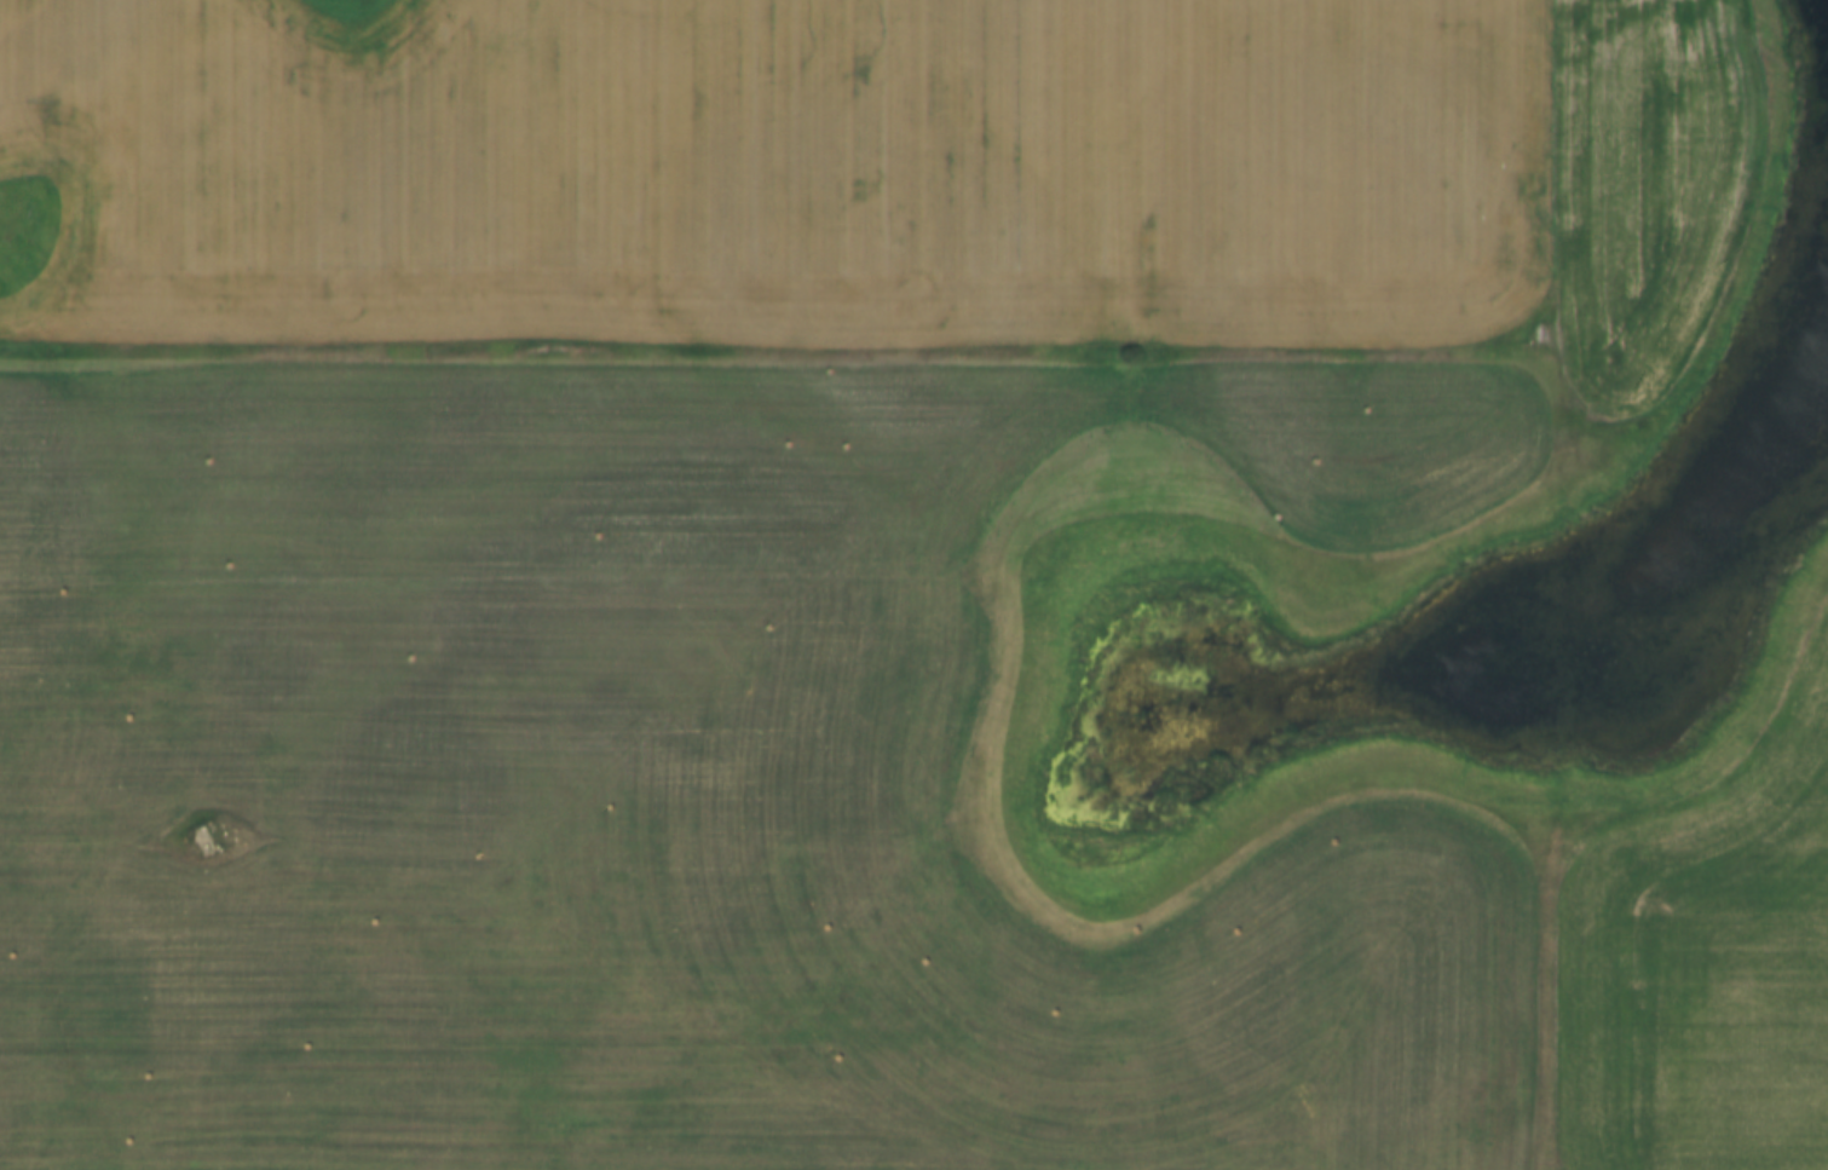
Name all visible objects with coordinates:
road: (1542, 1009)

